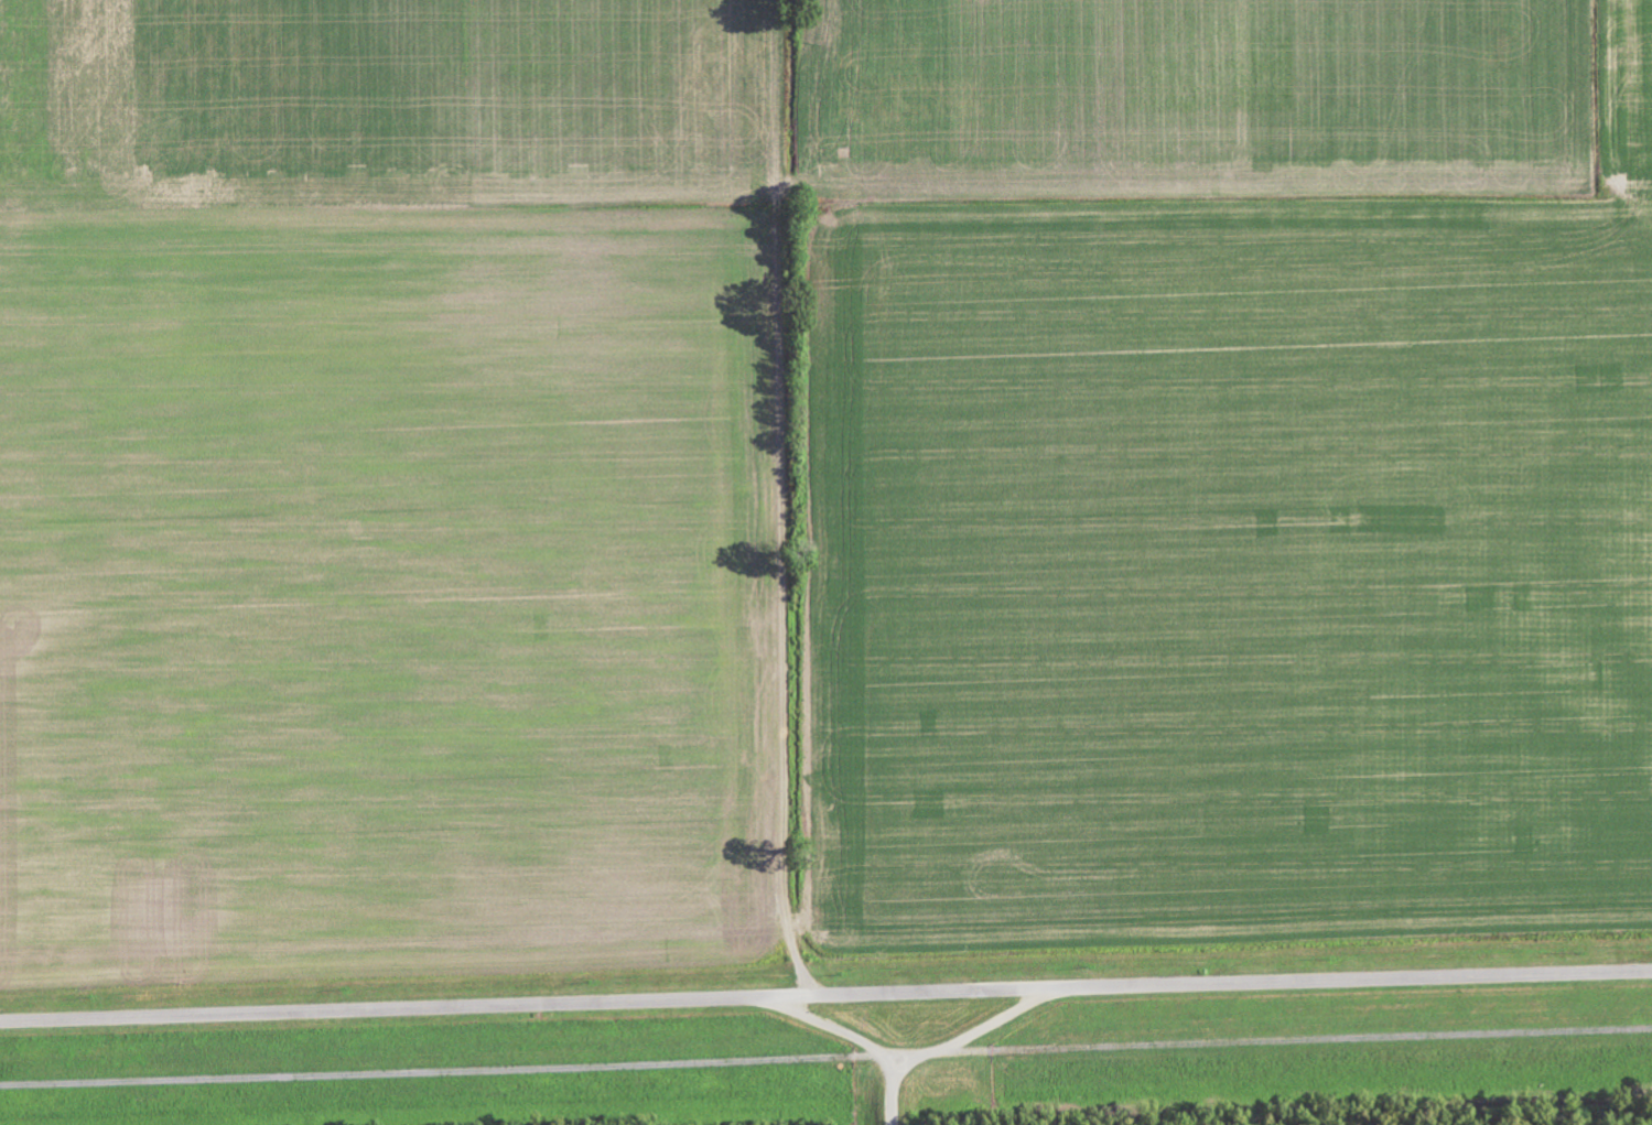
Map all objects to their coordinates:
road: (786, 575)
road: (825, 994)
road: (997, 1020)
road: (1274, 1039)
road: (867, 1041)
road: (449, 1068)

